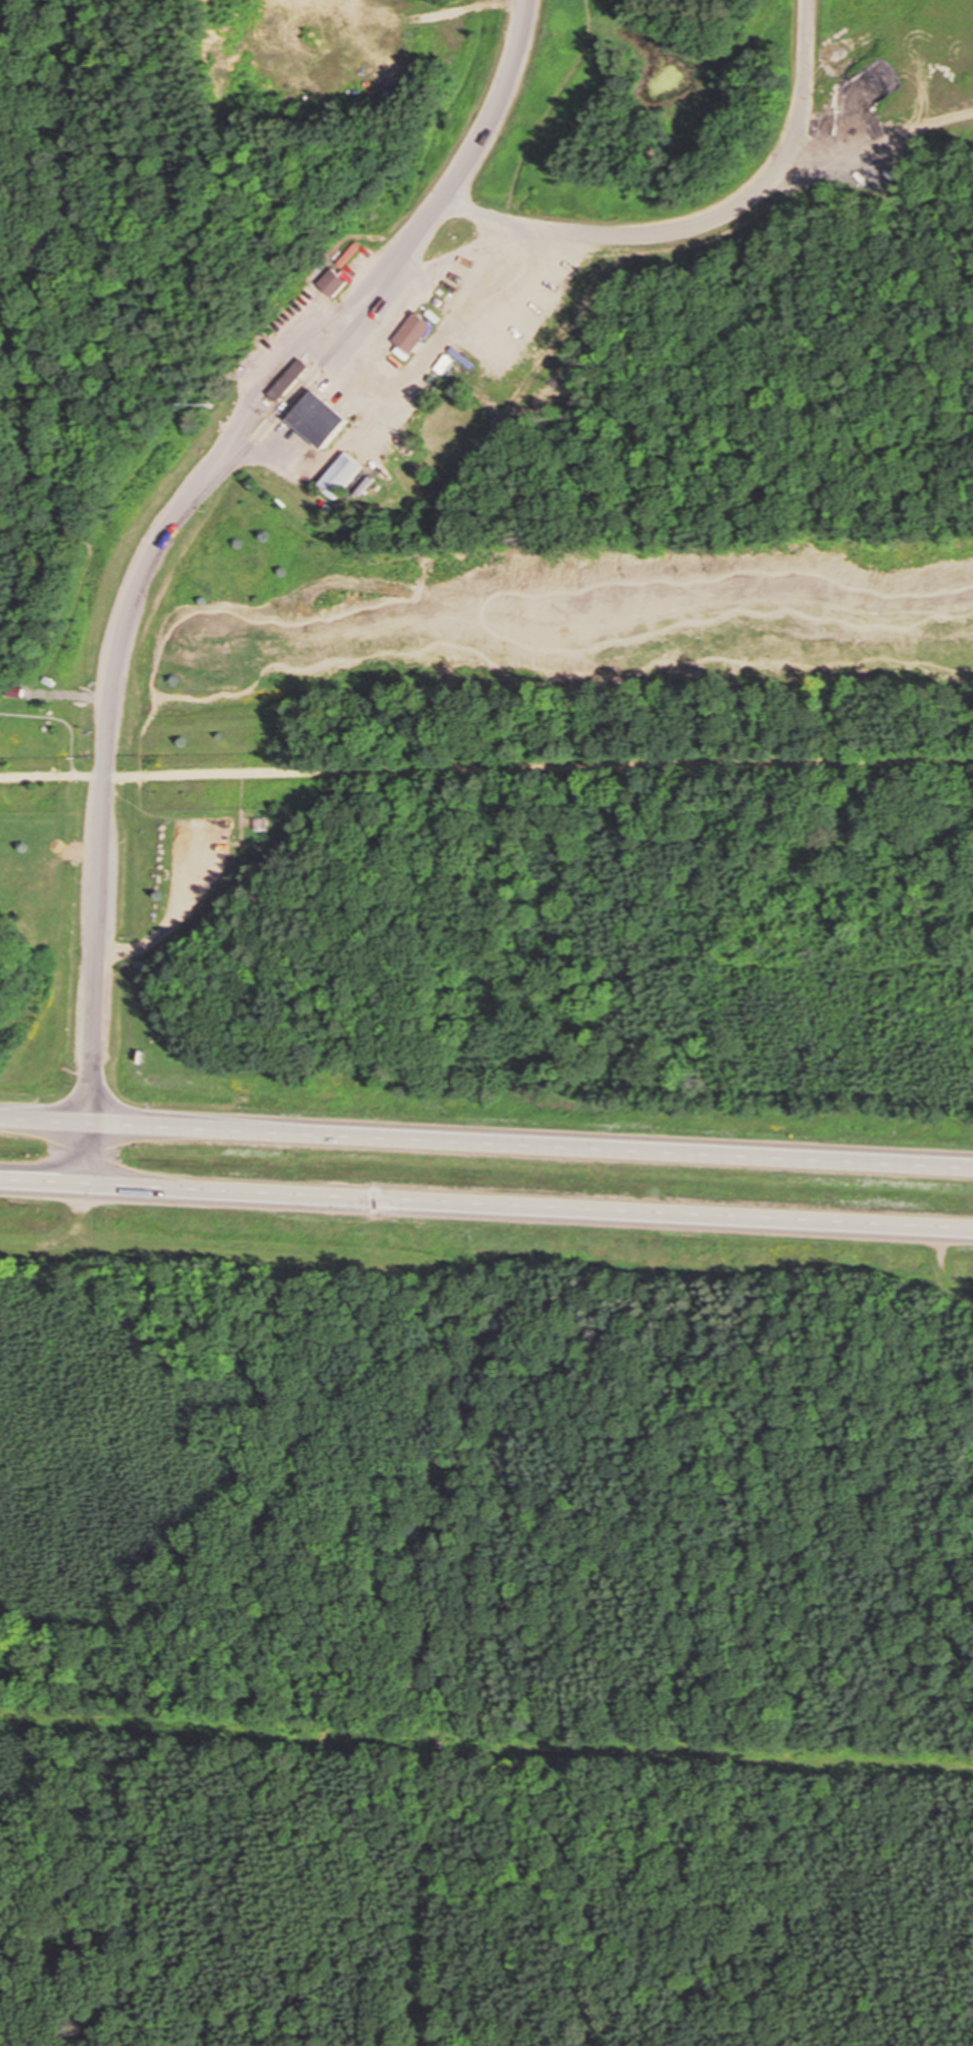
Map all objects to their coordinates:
road: (487, 214)
road: (649, 234)
road: (407, 243)
building: (334, 283)
building: (418, 332)
landfill: (531, 374)
building: (294, 380)
building: (325, 418)
building: (345, 475)
road: (540, 483)
road: (494, 613)
road: (555, 678)
road: (147, 746)
road: (486, 770)
road: (103, 800)
road: (45, 1122)
road: (531, 1145)
road: (42, 1176)
road: (529, 1200)

